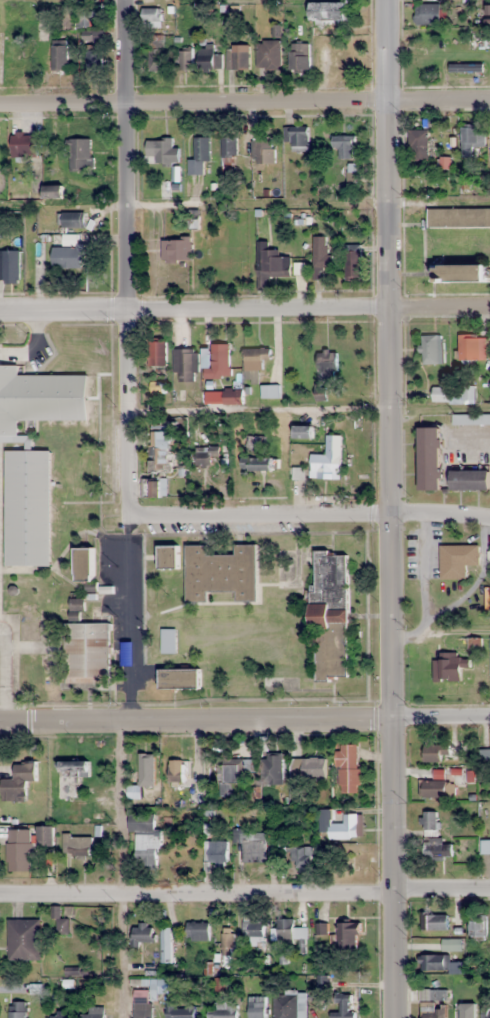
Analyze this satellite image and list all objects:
building: (328, 10)
building: (427, 14)
building: (90, 15)
building: (66, 17)
building: (151, 17)
building: (92, 36)
building: (14, 46)
building: (155, 52)
building: (268, 54)
building: (59, 56)
building: (238, 56)
building: (298, 56)
building: (208, 57)
building: (94, 58)
building: (185, 59)
building: (466, 67)
road: (244, 101)
building: (298, 137)
building: (471, 138)
building: (419, 144)
building: (24, 145)
building: (344, 145)
building: (164, 150)
building: (263, 150)
building: (80, 153)
building: (199, 155)
building: (228, 155)
building: (351, 176)
building: (52, 192)
building: (459, 217)
building: (71, 219)
building: (176, 248)
building: (320, 255)
building: (67, 256)
road: (125, 257)
building: (352, 261)
building: (270, 264)
building: (9, 266)
building: (460, 272)
road: (244, 307)
building: (473, 347)
building: (430, 349)
building: (157, 353)
building: (219, 362)
building: (254, 362)
building: (327, 362)
building: (185, 364)
building: (270, 390)
building: (223, 396)
building: (471, 419)
building: (302, 431)
building: (161, 451)
building: (33, 455)
building: (256, 455)
building: (206, 458)
building: (429, 458)
building: (327, 460)
building: (470, 479)
building: (158, 488)
road: (390, 508)
road: (440, 513)
road: (258, 514)
building: (168, 556)
building: (457, 560)
building: (221, 573)
building: (330, 613)
building: (168, 640)
building: (88, 652)
building: (449, 667)
building: (179, 678)
road: (245, 719)
building: (437, 752)
building: (485, 757)
building: (249, 765)
building: (348, 768)
building: (309, 769)
building: (272, 770)
building: (72, 777)
building: (228, 777)
building: (183, 778)
building: (144, 779)
building: (16, 780)
building: (433, 789)
building: (429, 822)
building: (344, 827)
building: (45, 837)
building: (144, 838)
building: (77, 845)
building: (485, 846)
building: (253, 847)
building: (437, 849)
building: (19, 850)
building: (217, 853)
building: (304, 858)
building: (360, 861)
road: (245, 893)
building: (434, 921)
building: (477, 925)
building: (321, 929)
building: (198, 931)
building: (254, 931)
building: (289, 932)
building: (143, 933)
building: (348, 935)
building: (24, 939)
building: (229, 940)
building: (451, 944)
building: (166, 945)
building: (434, 962)
building: (285, 1006)
building: (142, 1007)
building: (257, 1007)
building: (344, 1007)
building: (17, 1010)
building: (223, 1010)
building: (432, 1010)
building: (179, 1011)
building: (464, 1012)
building: (94, 1013)
building: (61, 1014)
building: (488, 1016)

